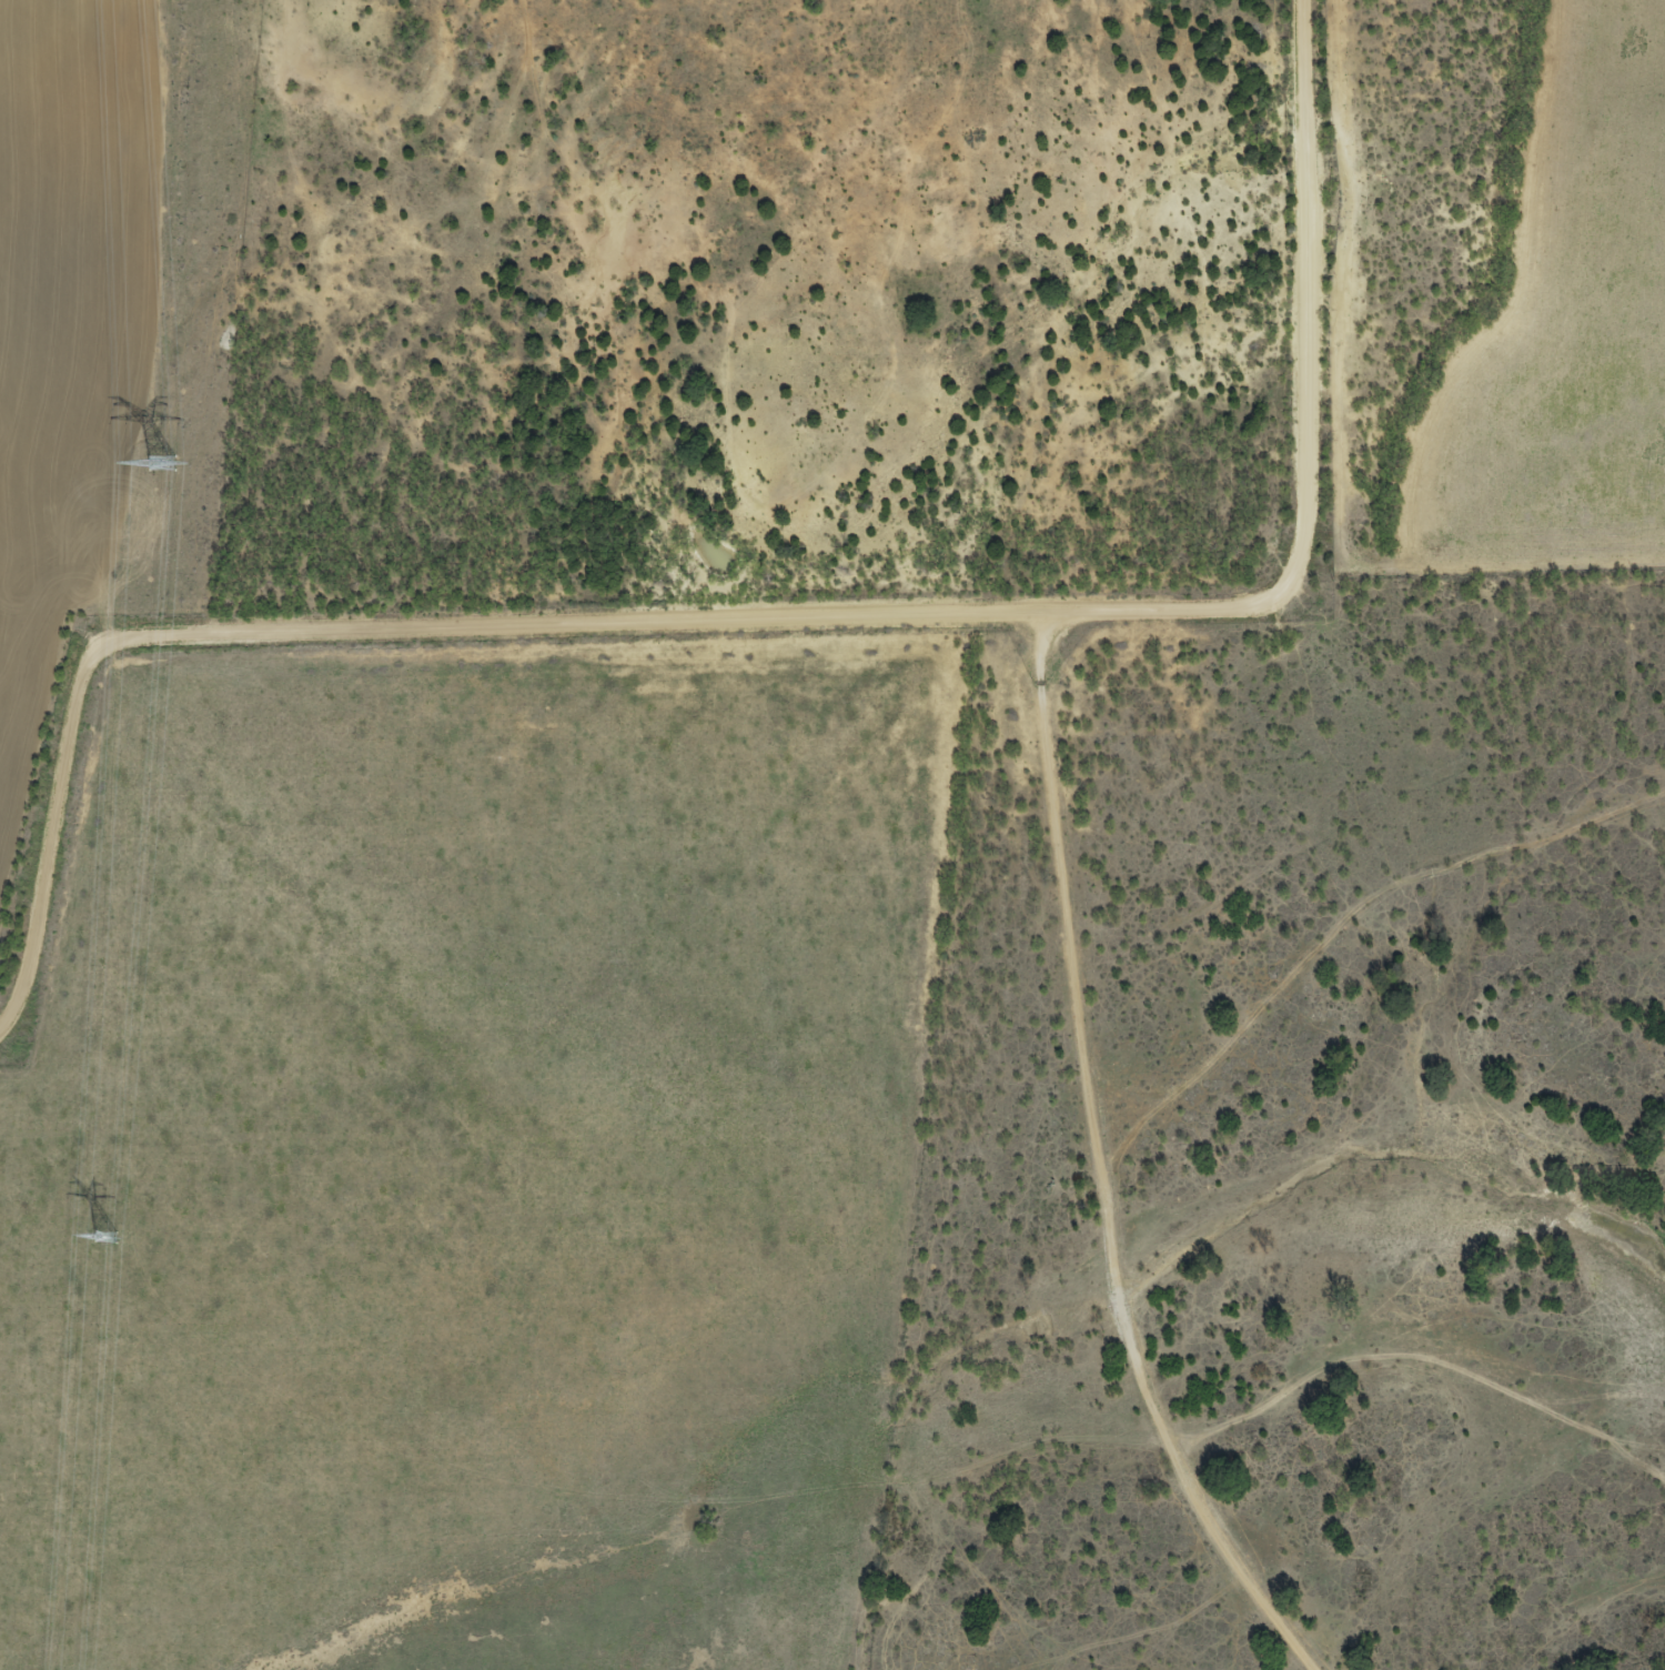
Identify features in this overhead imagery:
power tower: (164, 466)
road: (857, 678)
road: (1101, 1195)
power tower: (107, 1236)

